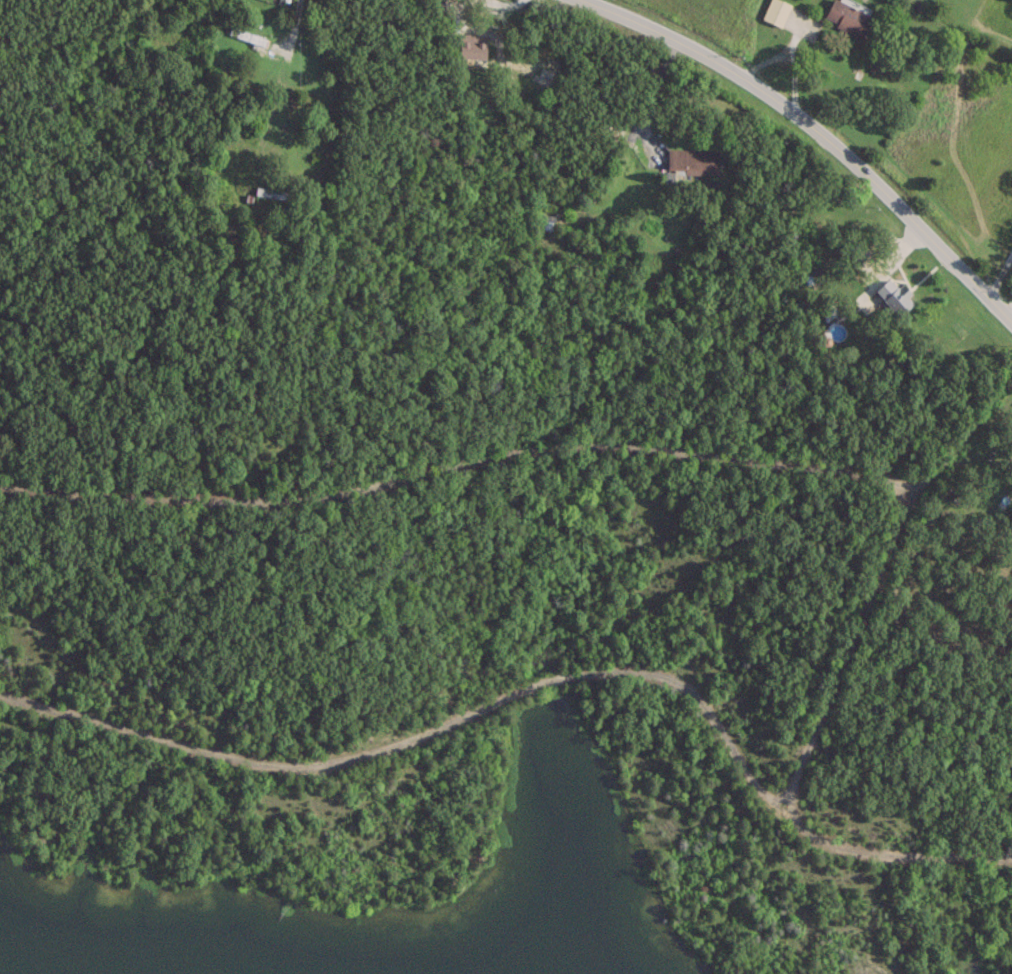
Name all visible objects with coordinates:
building: (772, 13)
building: (843, 18)
building: (246, 35)
building: (474, 44)
road: (282, 73)
road: (817, 131)
building: (692, 161)
building: (273, 192)
building: (894, 296)
road: (997, 387)
road: (463, 447)
road: (849, 647)
road: (419, 736)
road: (890, 850)

